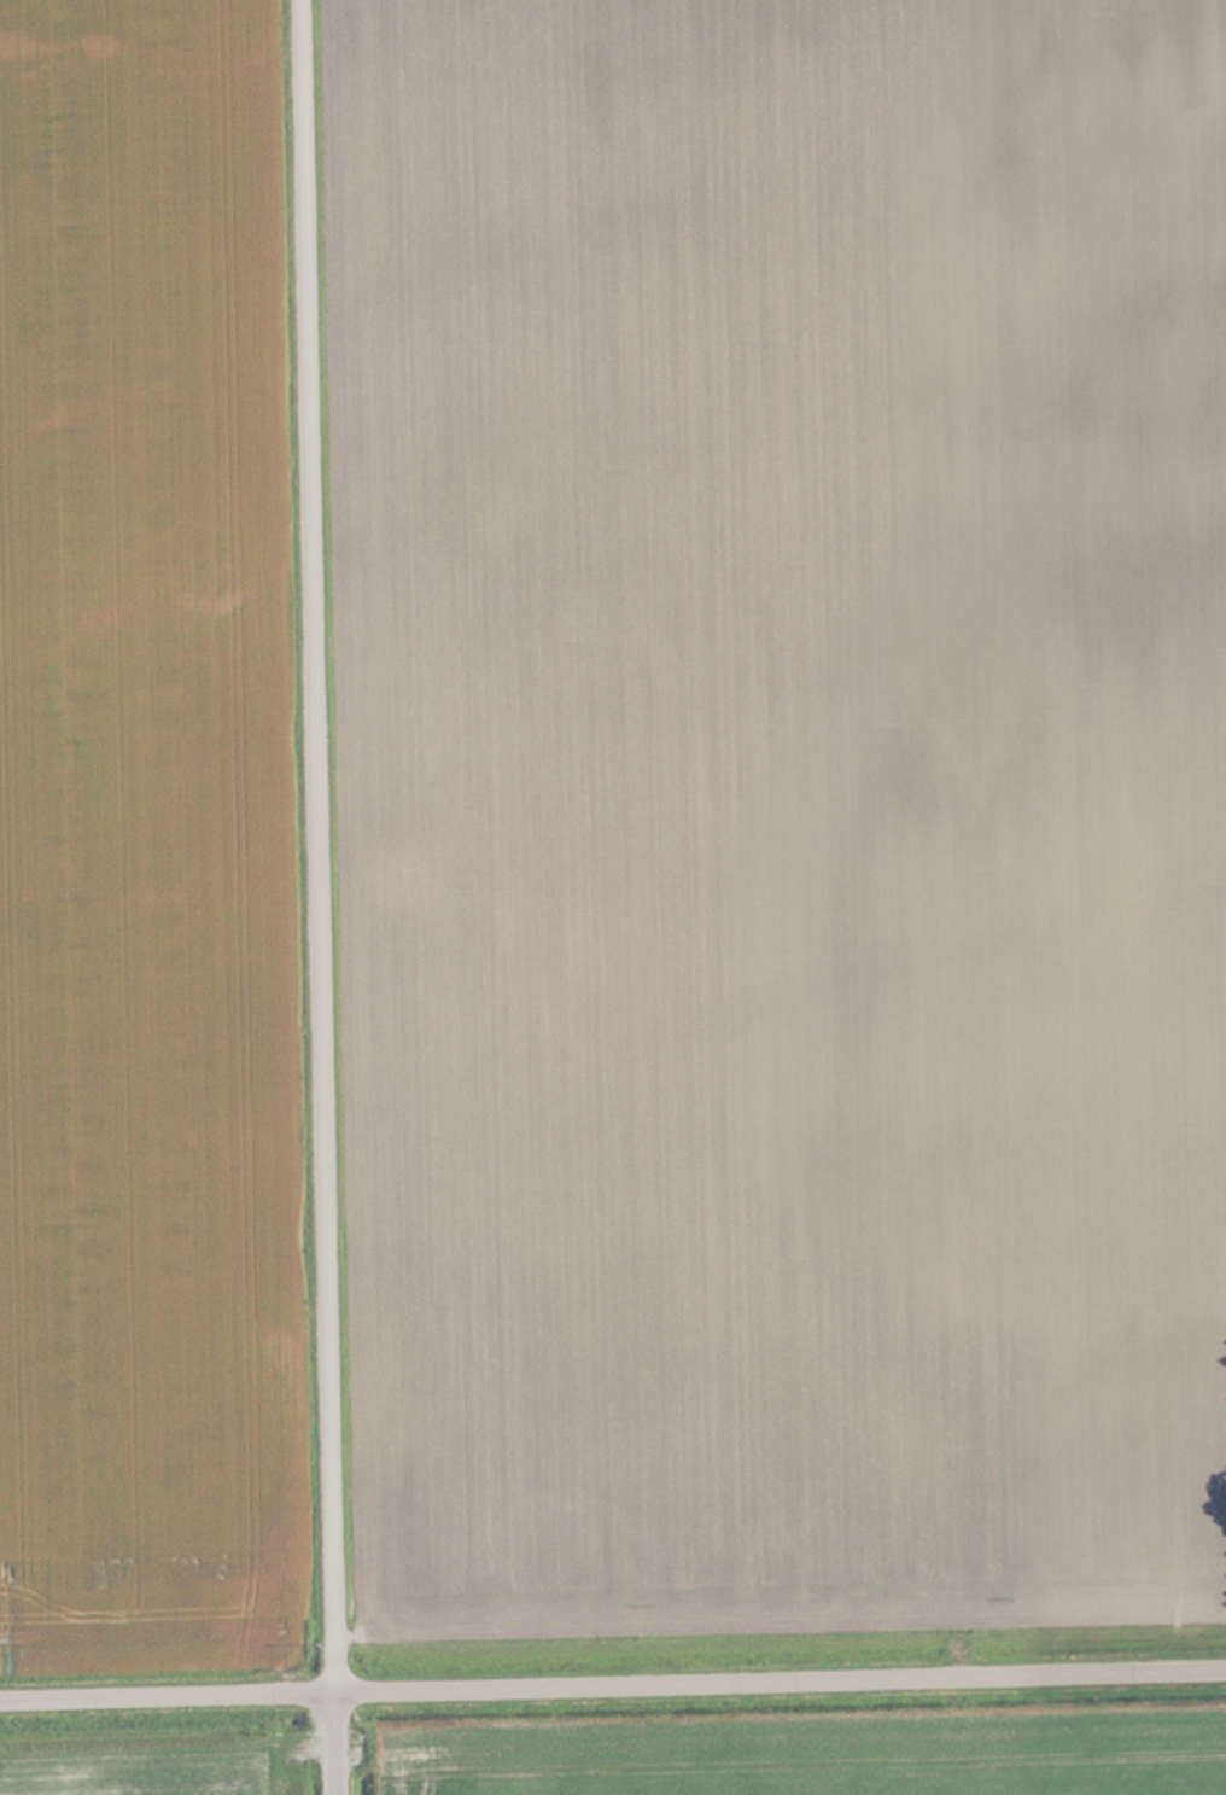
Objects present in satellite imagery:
road: (326, 897)
road: (612, 1680)

